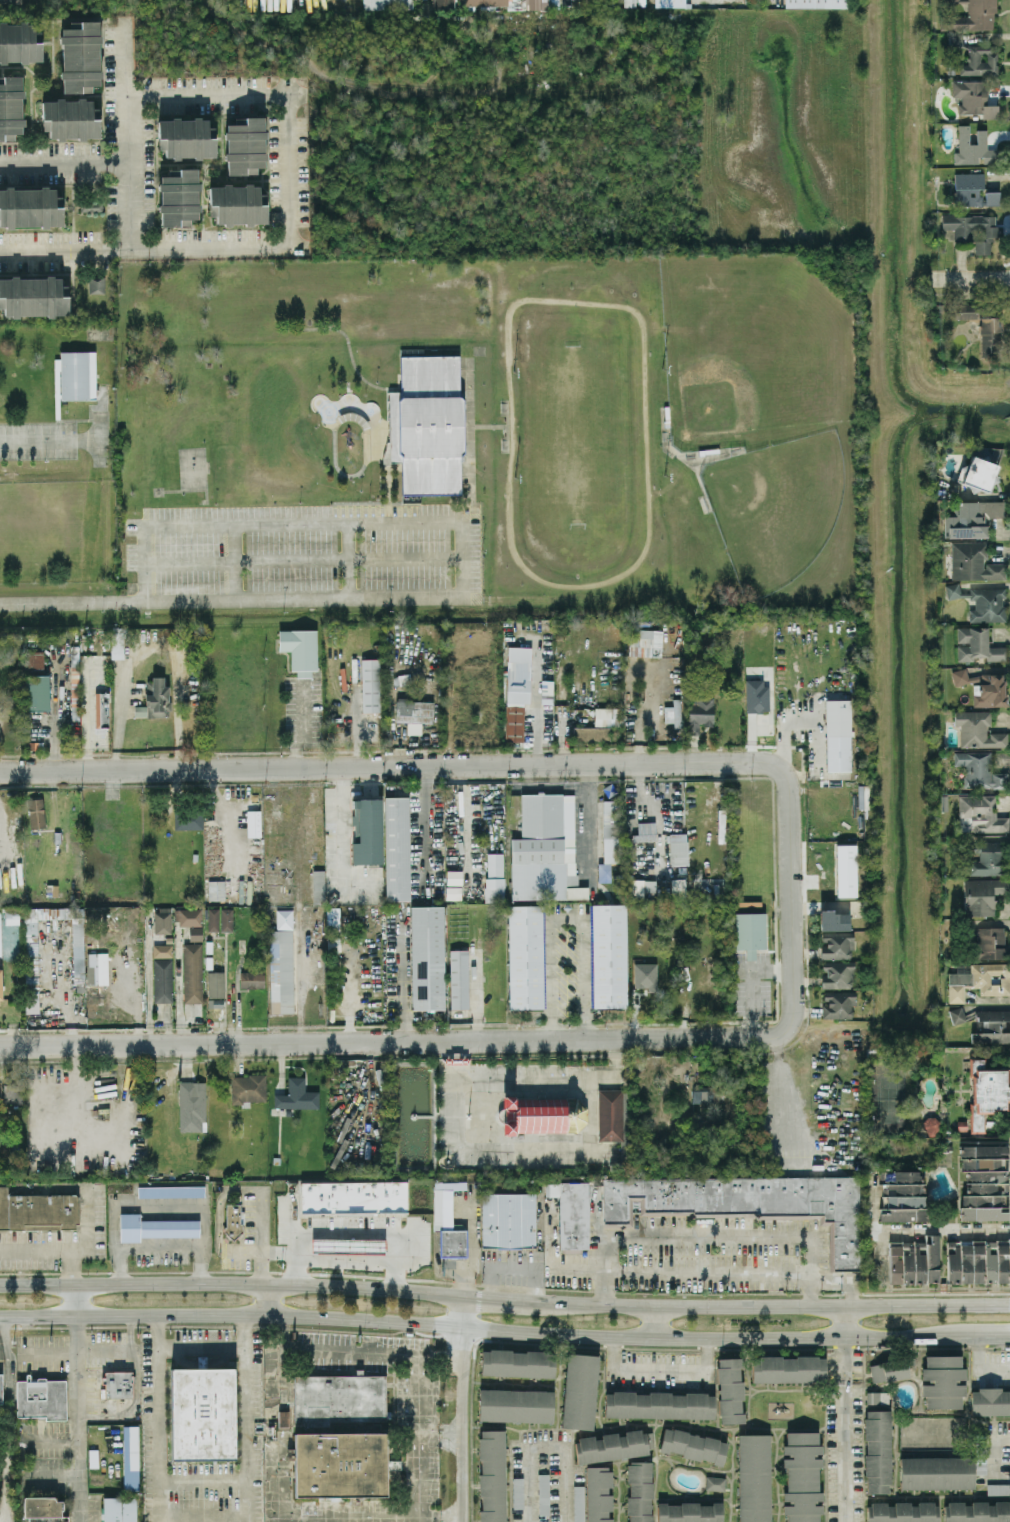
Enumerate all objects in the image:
building: (10, 2)
building: (565, 2)
building: (817, 3)
building: (387, 4)
building: (443, 4)
building: (971, 16)
building: (19, 43)
building: (80, 57)
building: (976, 57)
road: (285, 94)
building: (974, 99)
building: (10, 107)
building: (70, 119)
road: (129, 134)
building: (186, 138)
building: (245, 146)
building: (973, 147)
road: (65, 163)
building: (972, 190)
building: (178, 197)
building: (237, 204)
building: (91, 205)
building: (30, 208)
building: (972, 230)
road: (153, 249)
road: (971, 278)
building: (96, 284)
building: (33, 296)
building: (983, 329)
park: (754, 349)
building: (74, 375)
building: (427, 424)
road: (96, 425)
road: (48, 441)
building: (977, 473)
park: (777, 504)
building: (971, 519)
road: (161, 525)
road: (350, 562)
building: (973, 562)
road: (234, 563)
road: (143, 583)
road: (238, 601)
building: (987, 604)
building: (645, 642)
building: (117, 644)
building: (976, 644)
building: (300, 649)
building: (33, 660)
building: (404, 678)
building: (370, 684)
building: (982, 687)
building: (517, 690)
building: (36, 692)
building: (756, 696)
building: (140, 710)
building: (101, 711)
building: (700, 711)
building: (673, 713)
building: (414, 714)
building: (607, 716)
building: (977, 730)
building: (591, 733)
building: (837, 734)
road: (520, 765)
building: (979, 770)
road: (554, 775)
road: (547, 786)
building: (36, 813)
building: (982, 813)
road: (425, 816)
building: (188, 818)
road: (589, 820)
building: (253, 822)
building: (367, 831)
building: (611, 831)
building: (645, 832)
building: (397, 847)
building: (543, 847)
building: (678, 849)
building: (988, 859)
building: (495, 864)
building: (846, 870)
building: (454, 877)
building: (318, 886)
building: (678, 887)
building: (575, 888)
building: (494, 889)
building: (216, 890)
building: (453, 892)
building: (981, 895)
road: (566, 915)
building: (188, 917)
building: (284, 918)
building: (332, 918)
building: (213, 919)
building: (226, 919)
building: (163, 920)
building: (834, 920)
building: (749, 929)
building: (195, 933)
building: (10, 941)
building: (990, 943)
building: (836, 944)
building: (162, 950)
building: (609, 954)
building: (427, 956)
building: (524, 956)
building: (192, 972)
building: (837, 974)
building: (645, 976)
building: (251, 979)
building: (459, 979)
building: (162, 980)
building: (980, 980)
building: (215, 983)
road: (179, 988)
building: (0, 994)
road: (300, 997)
building: (838, 1004)
building: (957, 1015)
building: (993, 1027)
road: (397, 1040)
building: (248, 1088)
road: (785, 1090)
building: (705, 1094)
building: (987, 1094)
building: (296, 1095)
building: (192, 1104)
building: (542, 1114)
building: (610, 1114)
road: (453, 1118)
building: (985, 1182)
building: (170, 1191)
building: (353, 1196)
building: (904, 1196)
road: (156, 1201)
road: (219, 1203)
building: (746, 1204)
building: (38, 1211)
building: (571, 1214)
building: (507, 1219)
building: (233, 1220)
building: (154, 1227)
road: (943, 1227)
building: (447, 1229)
road: (352, 1233)
road: (709, 1234)
road: (261, 1235)
parking lot: (59, 1238)
road: (472, 1243)
road: (158, 1245)
building: (348, 1246)
road: (77, 1252)
road: (261, 1253)
building: (914, 1260)
road: (346, 1261)
building: (978, 1261)
road: (69, 1268)
road: (709, 1269)
road: (234, 1283)
road: (739, 1293)
road: (268, 1298)
road: (495, 1298)
road: (766, 1306)
road: (477, 1310)
road: (849, 1321)
road: (658, 1322)
road: (489, 1330)
road: (244, 1331)
road: (157, 1332)
road: (994, 1335)
road: (105, 1345)
road: (929, 1347)
road: (201, 1350)
road: (49, 1353)
road: (7, 1356)
road: (412, 1358)
building: (518, 1363)
road: (980, 1365)
building: (788, 1369)
building: (890, 1369)
road: (662, 1371)
building: (943, 1381)
building: (118, 1384)
building: (1, 1388)
building: (579, 1390)
building: (730, 1391)
building: (339, 1397)
building: (42, 1399)
building: (990, 1401)
road: (78, 1402)
building: (659, 1404)
building: (516, 1405)
road: (105, 1407)
road: (459, 1408)
road: (247, 1411)
road: (159, 1412)
building: (202, 1413)
building: (283, 1418)
road: (847, 1428)
building: (877, 1442)
building: (614, 1445)
building: (693, 1445)
road: (549, 1446)
building: (130, 1457)
road: (995, 1458)
building: (340, 1464)
building: (936, 1472)
road: (205, 1474)
building: (492, 1475)
building: (802, 1476)
building: (754, 1478)
building: (715, 1483)
building: (639, 1491)
building: (543, 1493)
building: (598, 1494)
road: (249, 1497)
road: (161, 1498)
building: (43, 1509)
building: (119, 1509)
building: (977, 1511)
building: (689, 1512)
building: (902, 1512)
road: (367, 1515)
road: (205, 1517)

